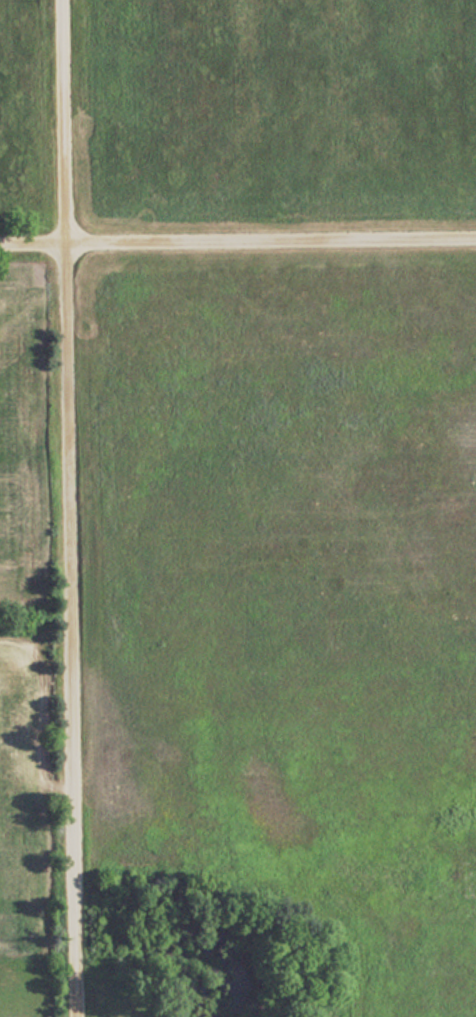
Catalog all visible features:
road: (271, 242)
road: (33, 244)
road: (70, 508)

